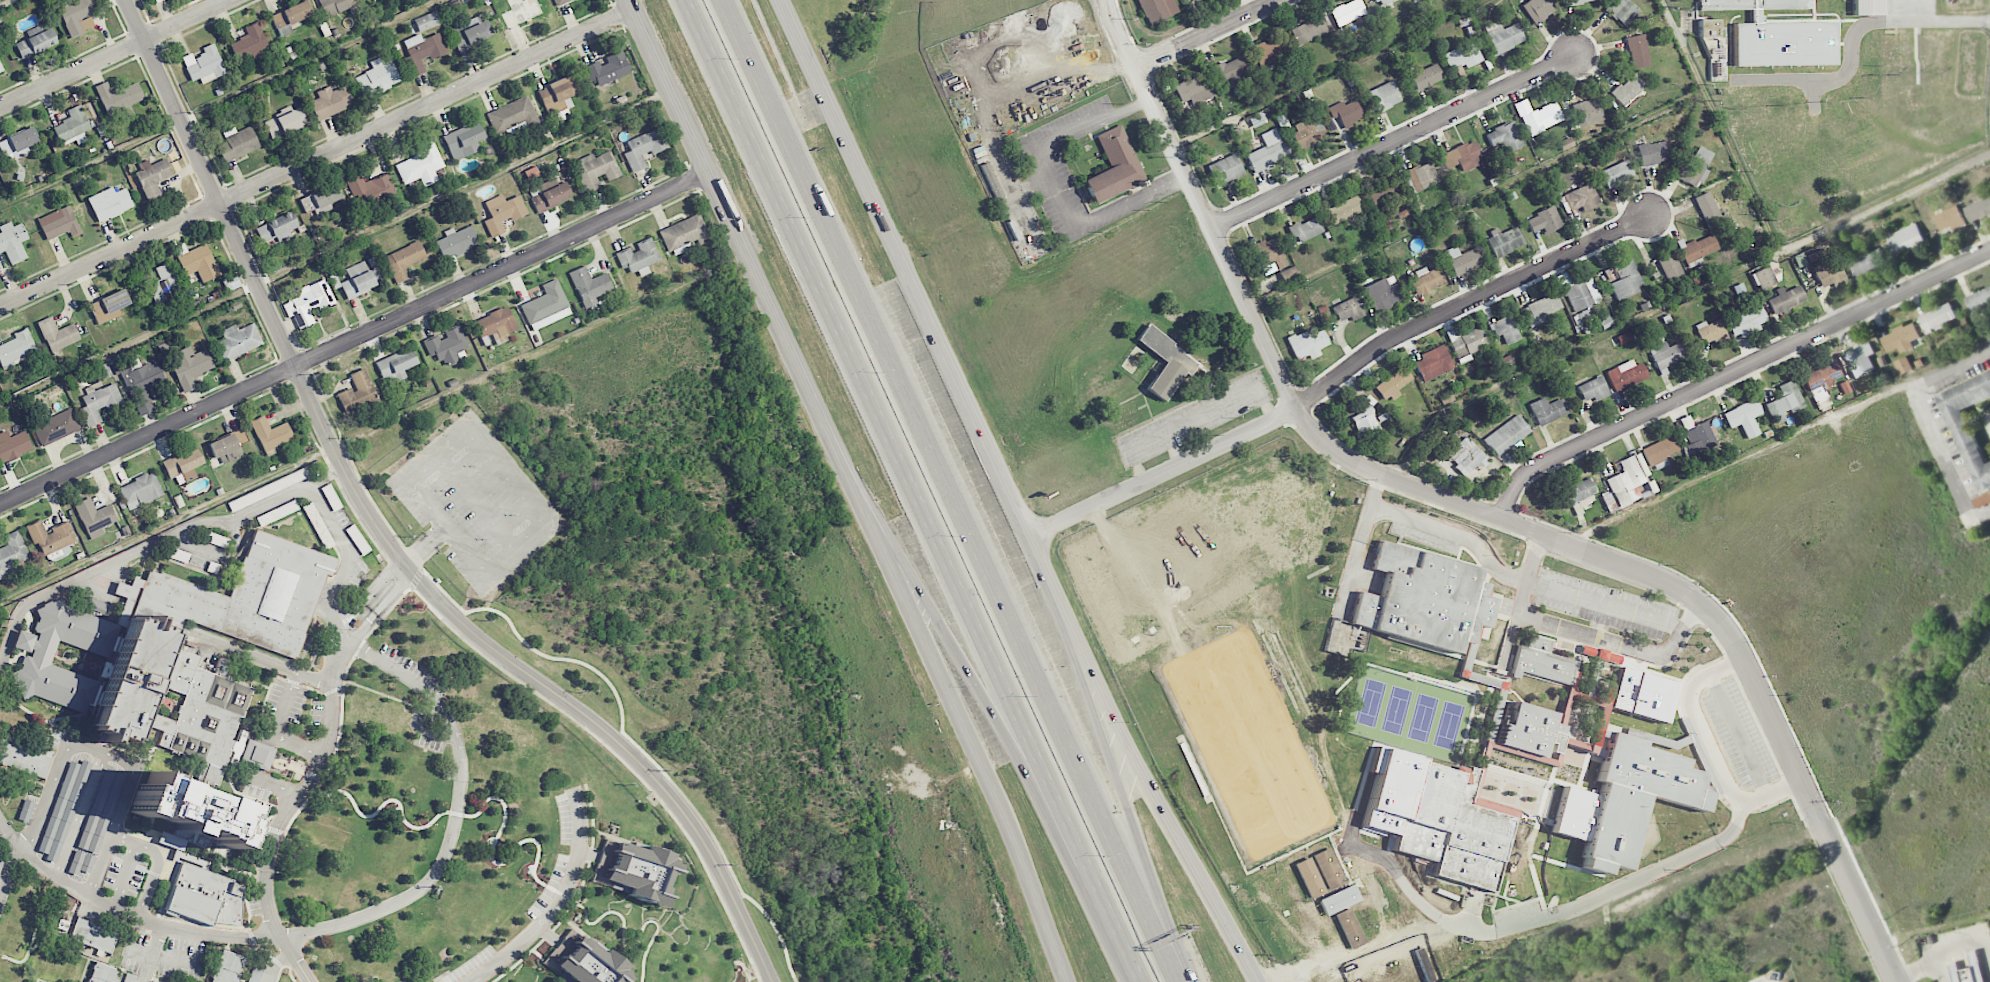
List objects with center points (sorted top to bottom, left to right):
building: (1192, 0)
building: (1576, 1)
building: (560, 2)
building: (1383, 2)
building: (1867, 7)
building: (1157, 9)
building: (1538, 9)
building: (1621, 11)
building: (1347, 12)
building: (76, 16)
building: (289, 17)
building: (426, 21)
building: (1707, 28)
building: (1308, 30)
building: (472, 34)
road: (1207, 34)
building: (1776, 35)
building: (1502, 36)
road: (1853, 40)
building: (36, 43)
building: (249, 43)
building: (1637, 51)
building: (421, 52)
road: (112, 53)
building: (1267, 54)
building: (1462, 59)
building: (204, 64)
building: (0, 68)
building: (608, 69)
building: (1229, 71)
building: (377, 77)
building: (1426, 77)
building: (1193, 89)
building: (1627, 89)
building: (557, 95)
building: (118, 96)
building: (1384, 96)
building: (331, 101)
building: (1587, 112)
building: (1346, 113)
building: (511, 116)
building: (1537, 116)
building: (286, 122)
building: (72, 126)
building: (1307, 131)
building: (1504, 137)
building: (464, 140)
road: (1056, 140)
road: (1394, 142)
building: (18, 143)
building: (237, 143)
building: (644, 148)
building: (1267, 150)
building: (1654, 152)
building: (1462, 156)
road: (317, 157)
building: (421, 164)
building: (1114, 166)
building: (1695, 167)
building: (596, 169)
building: (1225, 169)
building: (1616, 173)
building: (1423, 175)
building: (152, 177)
building: (370, 188)
building: (1376, 195)
building: (551, 197)
building: (1581, 197)
building: (320, 198)
road: (1132, 201)
building: (109, 203)
building: (1708, 209)
building: (1978, 209)
building: (1346, 210)
building: (502, 212)
building: (1949, 219)
building: (1544, 220)
building: (59, 223)
building: (276, 228)
building: (1305, 229)
building: (686, 234)
building: (1504, 240)
building: (1903, 240)
building: (13, 241)
building: (456, 241)
road: (743, 247)
building: (1698, 250)
building: (1269, 253)
building: (639, 257)
building: (404, 260)
building: (1461, 260)
building: (199, 262)
building: (1865, 264)
building: (1669, 266)
building: (1289, 275)
building: (1829, 275)
building: (1767, 276)
building: (1426, 279)
building: (1625, 279)
building: (357, 280)
building: (589, 285)
building: (1383, 293)
building: (1581, 294)
building: (1786, 299)
building: (307, 302)
building: (1979, 302)
building: (109, 306)
building: (546, 306)
building: (1540, 307)
building: (1348, 309)
building: (1937, 317)
building: (1747, 321)
building: (495, 323)
road: (934, 327)
building: (1505, 330)
building: (1710, 331)
building: (57, 334)
building: (1624, 337)
road: (354, 338)
building: (1902, 338)
building: (238, 340)
building: (1307, 343)
building: (1468, 344)
building: (447, 345)
building: (16, 349)
building: (1667, 354)
building: (1860, 360)
building: (1166, 362)
building: (1432, 363)
building: (190, 365)
building: (396, 365)
building: (1904, 366)
road: (1734, 373)
building: (1626, 375)
road: (1340, 376)
building: (1821, 380)
building: (1392, 384)
building: (142, 385)
building: (357, 389)
building: (1593, 389)
building: (1784, 401)
building: (98, 402)
building: (1547, 410)
road: (1192, 417)
building: (1743, 417)
road: (1928, 421)
building: (1365, 424)
building: (1972, 426)
building: (56, 427)
building: (270, 433)
building: (1507, 435)
building: (1697, 436)
building: (13, 445)
building: (228, 447)
road: (1173, 447)
building: (1659, 450)
building: (1465, 456)
building: (1628, 477)
road: (505, 479)
building: (268, 489)
building: (140, 490)
road: (910, 491)
road: (944, 492)
road: (1375, 493)
building: (1577, 493)
road: (1481, 512)
building: (313, 516)
building: (94, 517)
road: (217, 519)
road: (1403, 519)
road: (384, 539)
road: (424, 546)
building: (13, 552)
road: (368, 598)
building: (1423, 599)
road: (1606, 603)
road: (379, 608)
road: (944, 623)
road: (1582, 632)
road: (1510, 639)
road: (270, 661)
building: (1540, 662)
building: (180, 671)
road: (285, 702)
building: (378, 714)
road: (971, 735)
road: (299, 742)
road: (83, 747)
road: (1711, 748)
building: (256, 754)
building: (24, 755)
road: (258, 776)
building: (1635, 797)
building: (63, 809)
building: (25, 810)
building: (100, 811)
road: (288, 812)
road: (80, 815)
road: (457, 816)
road: (1131, 820)
road: (1171, 821)
road: (124, 838)
building: (1, 859)
building: (81, 862)
road: (9, 865)
road: (100, 866)
building: (634, 869)
road: (125, 876)
road: (153, 876)
building: (1309, 877)
building: (1334, 883)
road: (1622, 887)
building: (1286, 889)
building: (204, 897)
building: (1266, 898)
building: (1380, 901)
road: (557, 904)
road: (125, 914)
building: (23, 917)
building: (1364, 918)
building: (1307, 927)
building: (1349, 927)
building: (92, 935)
building: (1288, 937)
road: (1988, 951)
road: (1939, 954)
road: (152, 955)
road: (161, 958)
building: (586, 960)
road: (274, 963)
building: (55, 966)
building: (227, 967)
road: (1940, 969)
building: (1968, 970)
building: (10, 973)
building: (102, 973)
building: (255, 974)
building: (1400, 974)
building: (128, 977)

